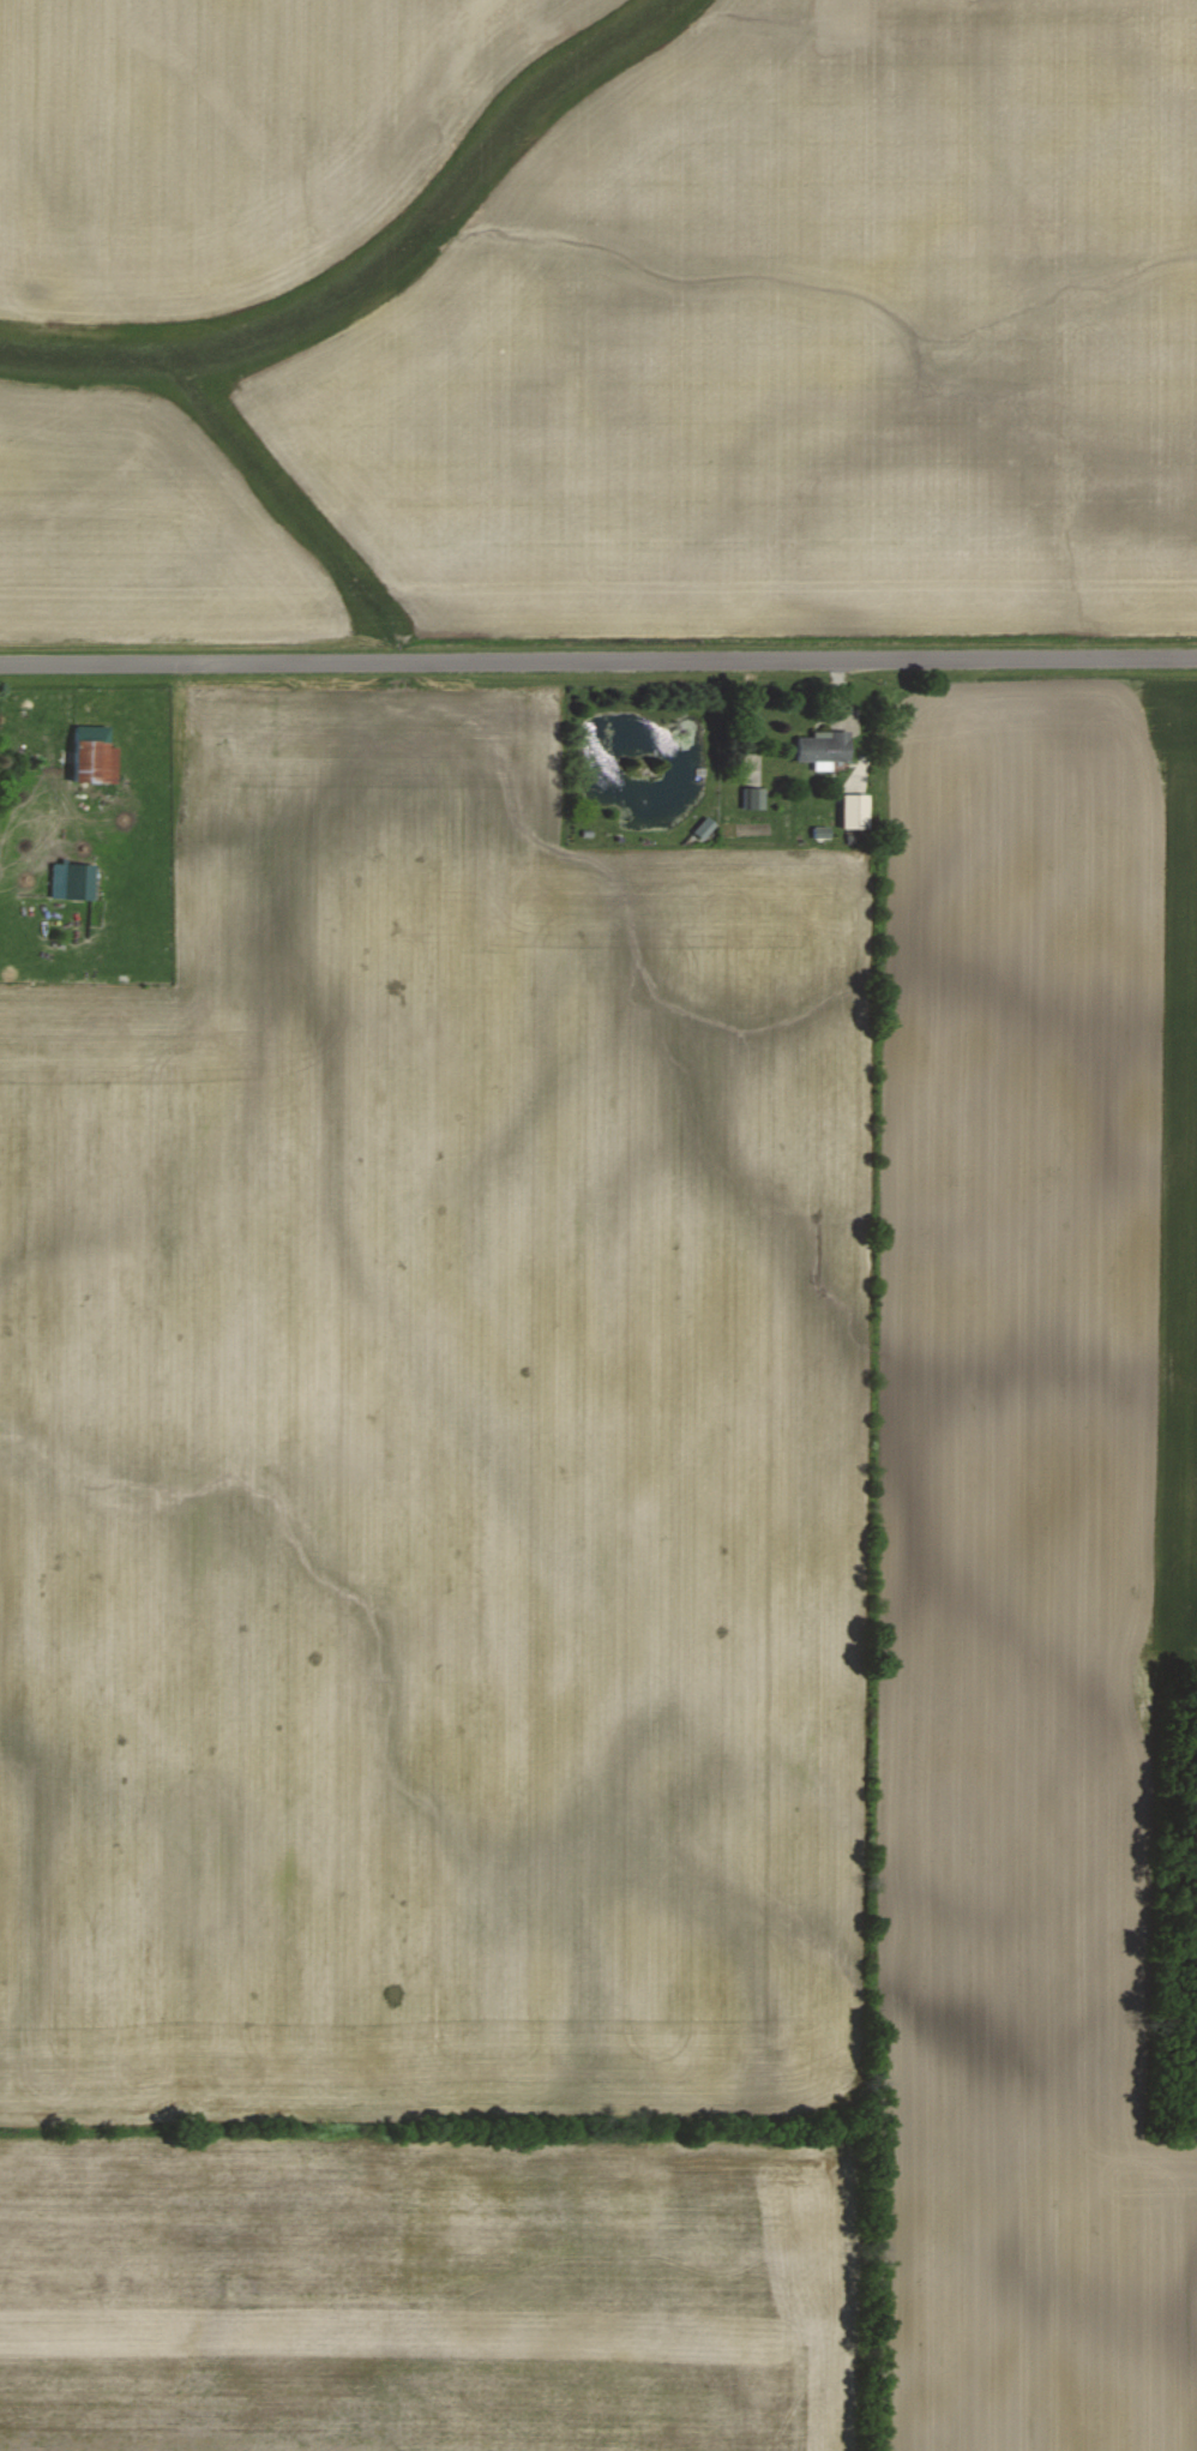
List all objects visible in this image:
road: (597, 659)
building: (823, 749)
building: (94, 756)
building: (753, 798)
building: (854, 811)
building: (704, 828)
building: (822, 831)
building: (72, 881)

